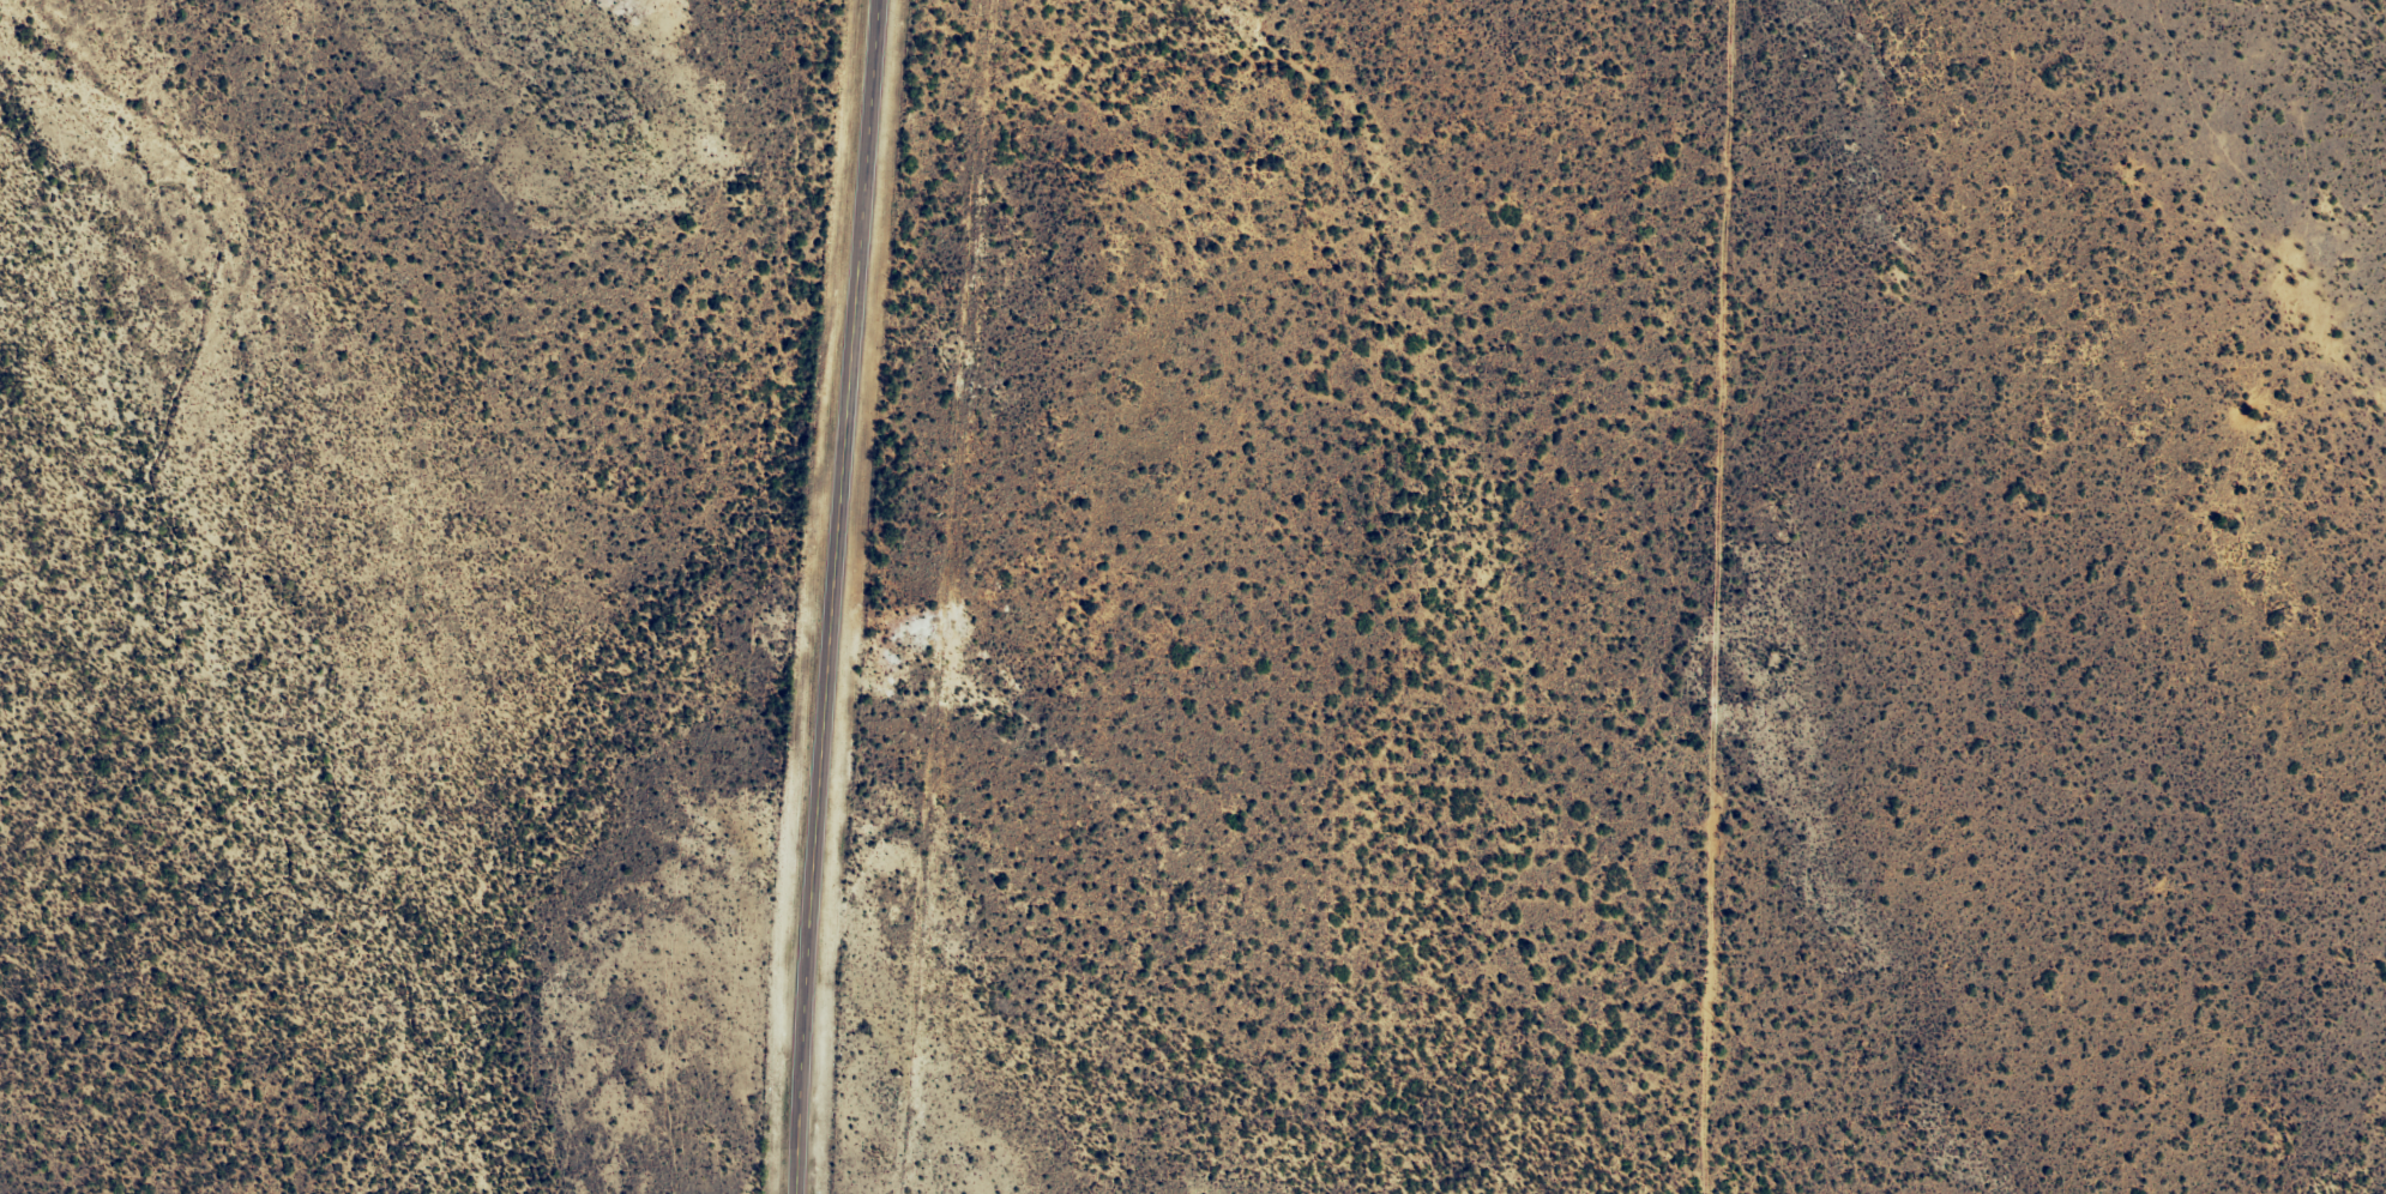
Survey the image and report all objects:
road: (835, 596)

